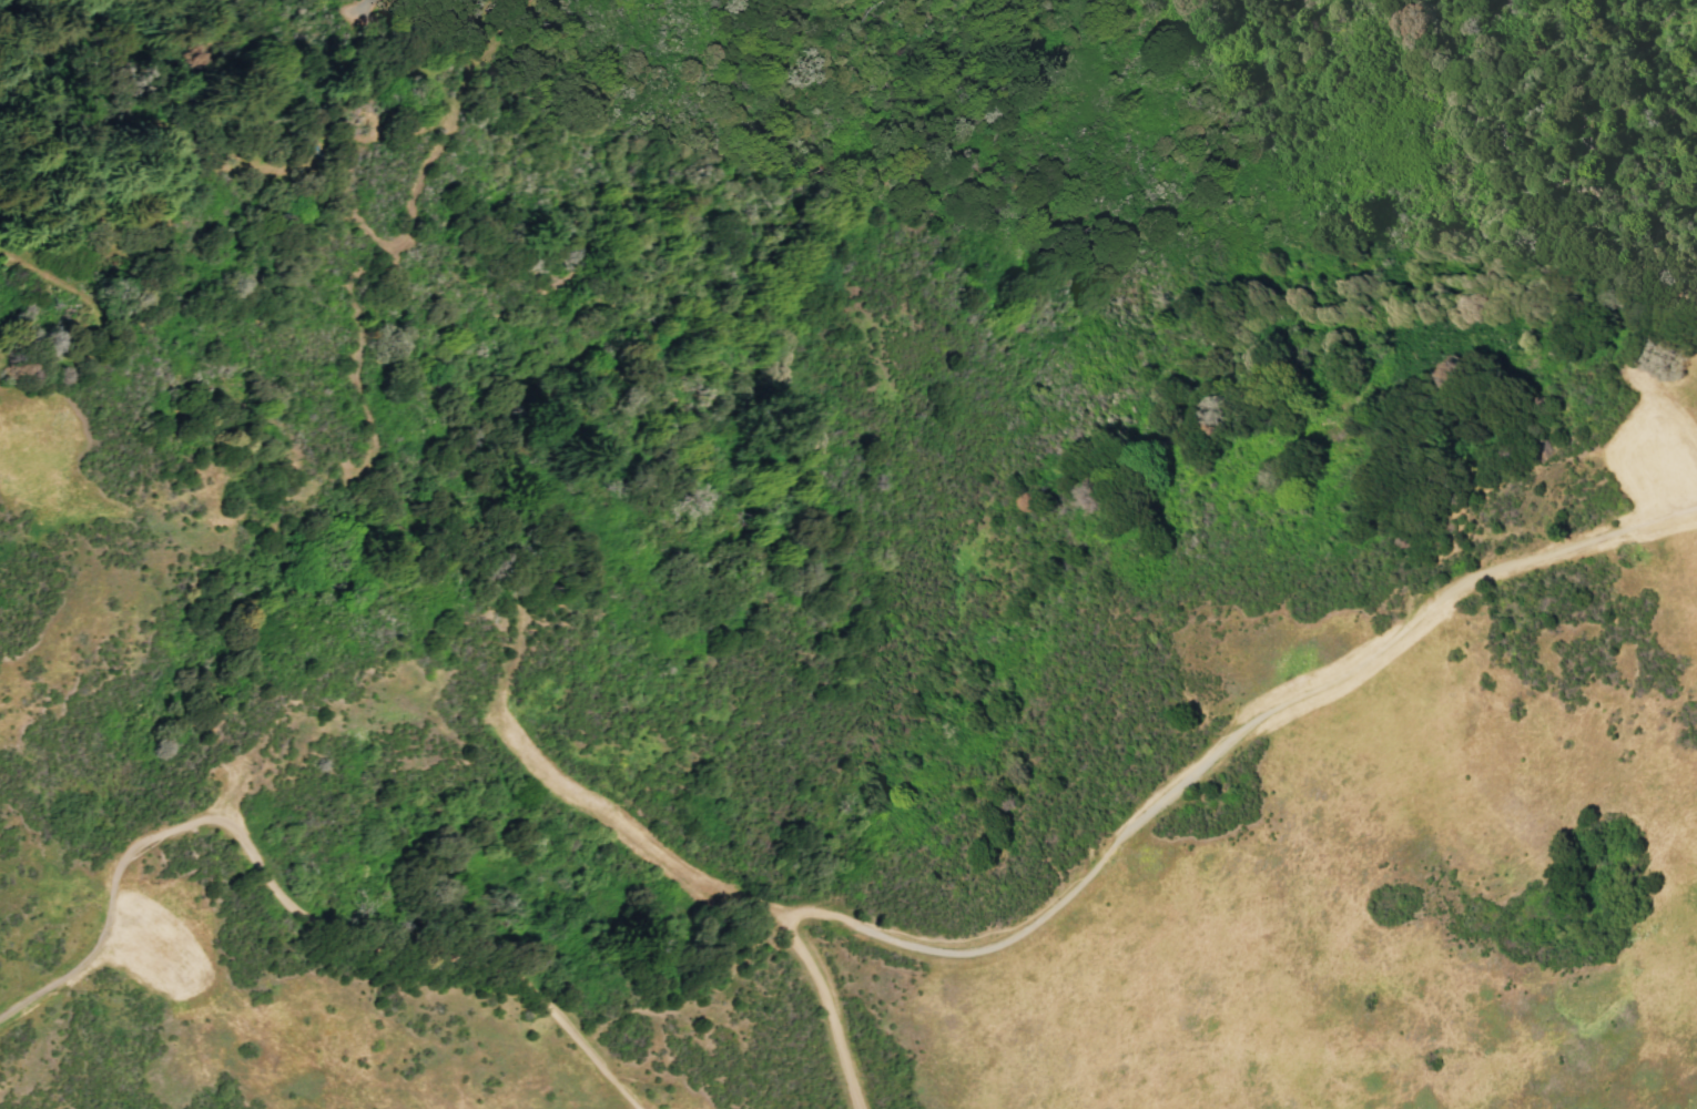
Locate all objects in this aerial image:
road: (1148, 808)
road: (294, 886)

